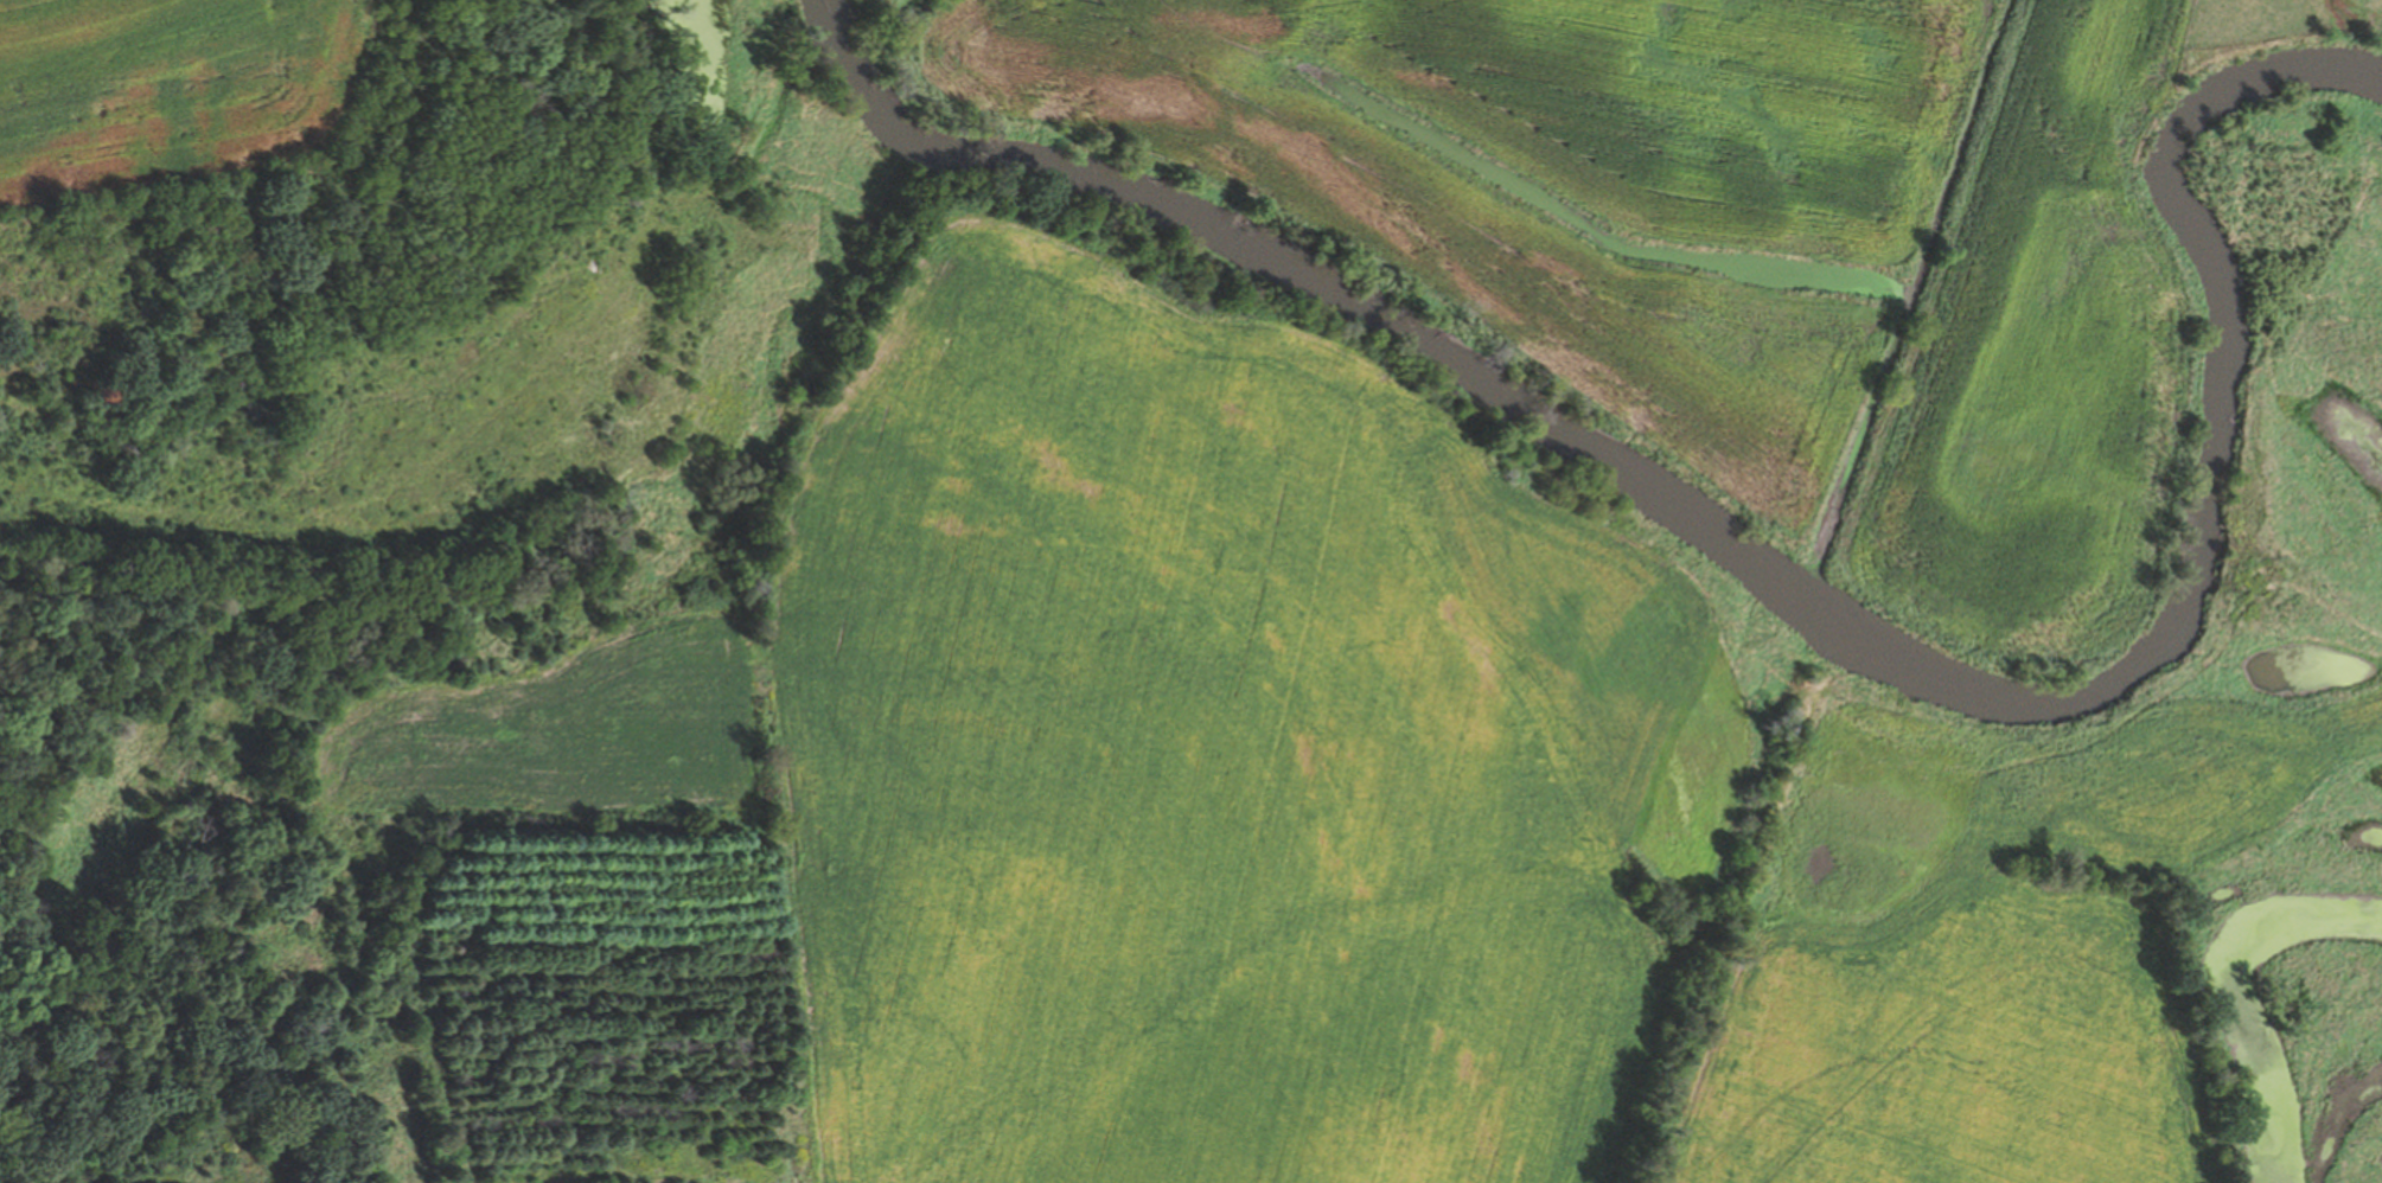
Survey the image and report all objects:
river: (1761, 612)

